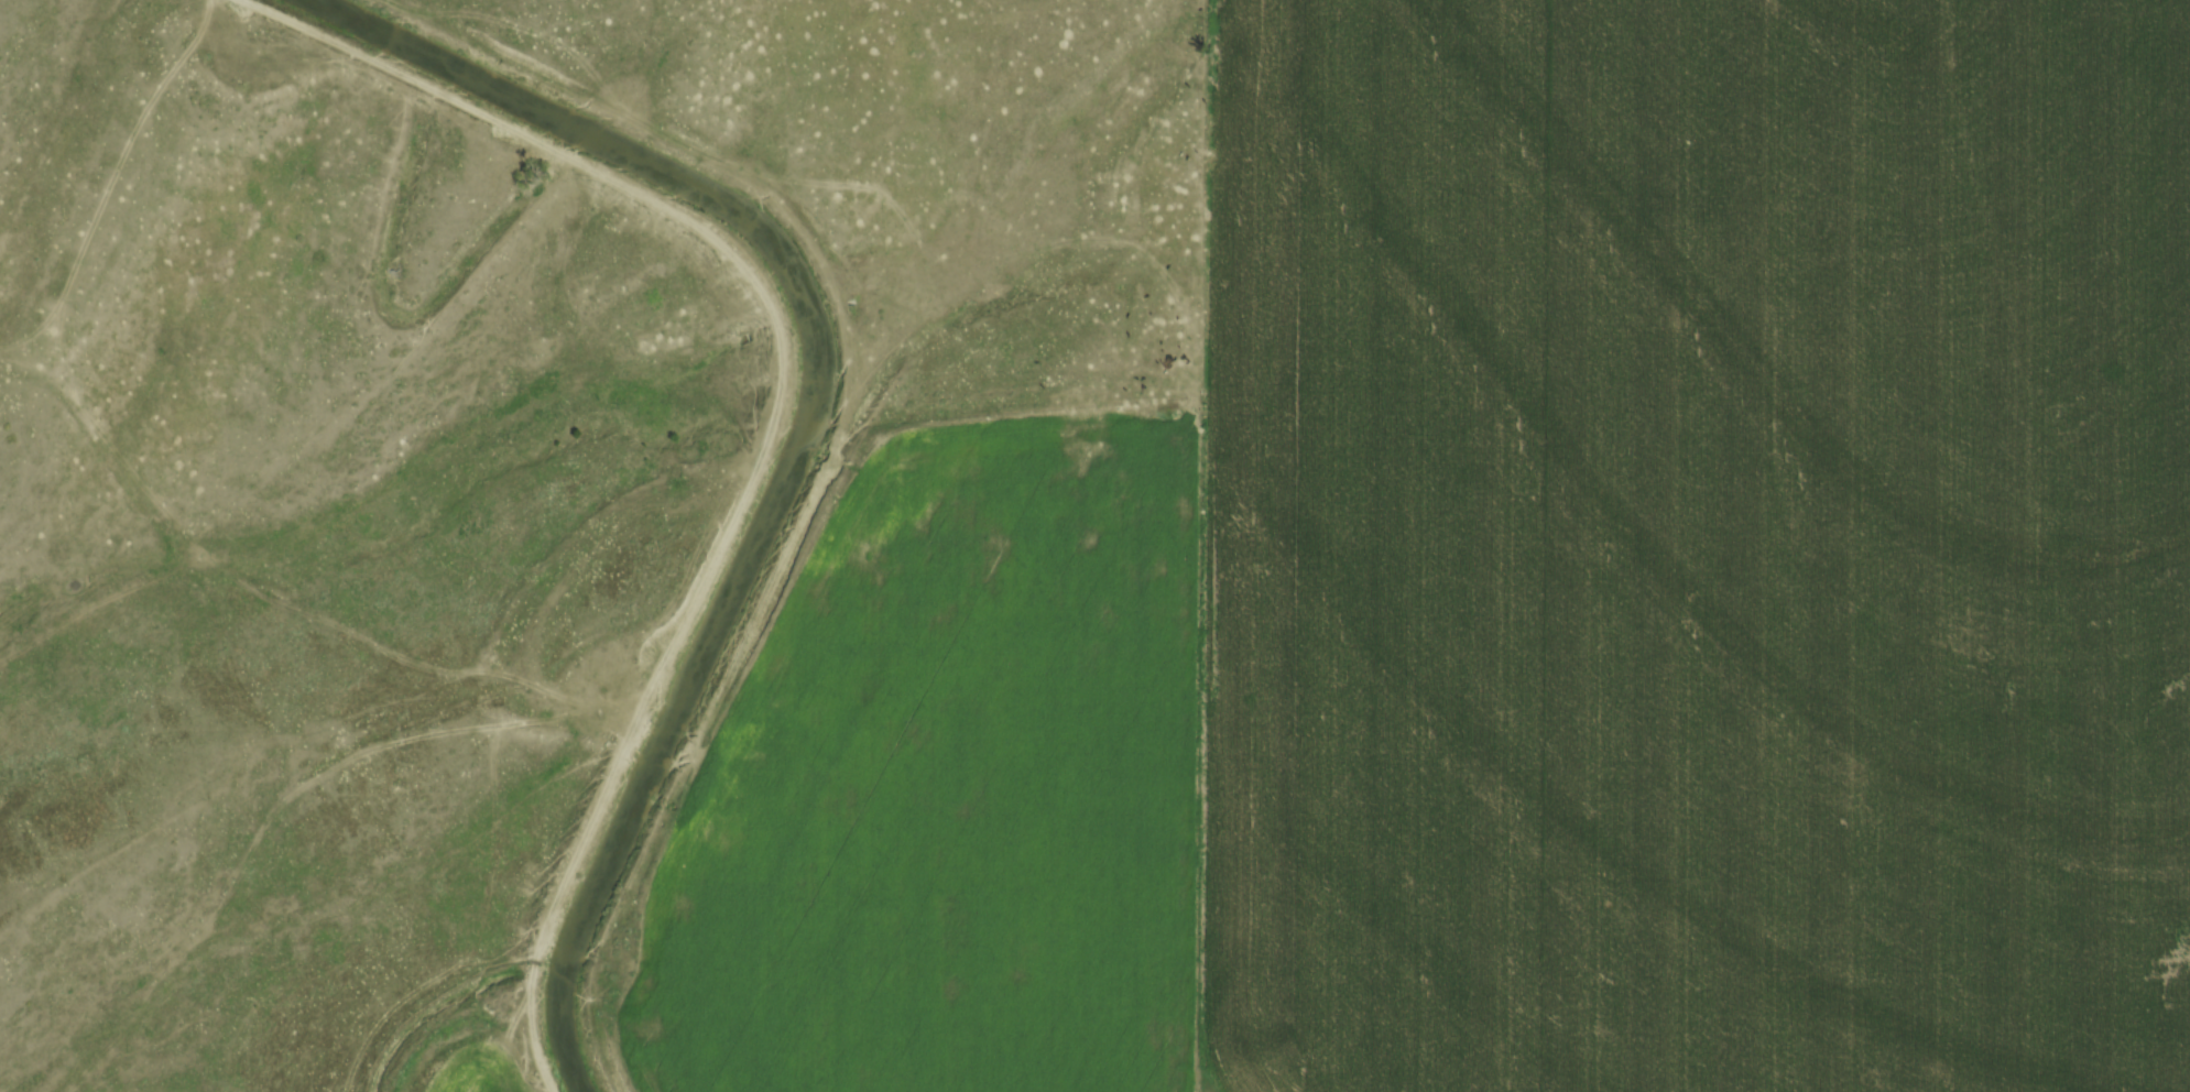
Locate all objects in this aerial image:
road: (775, 417)

